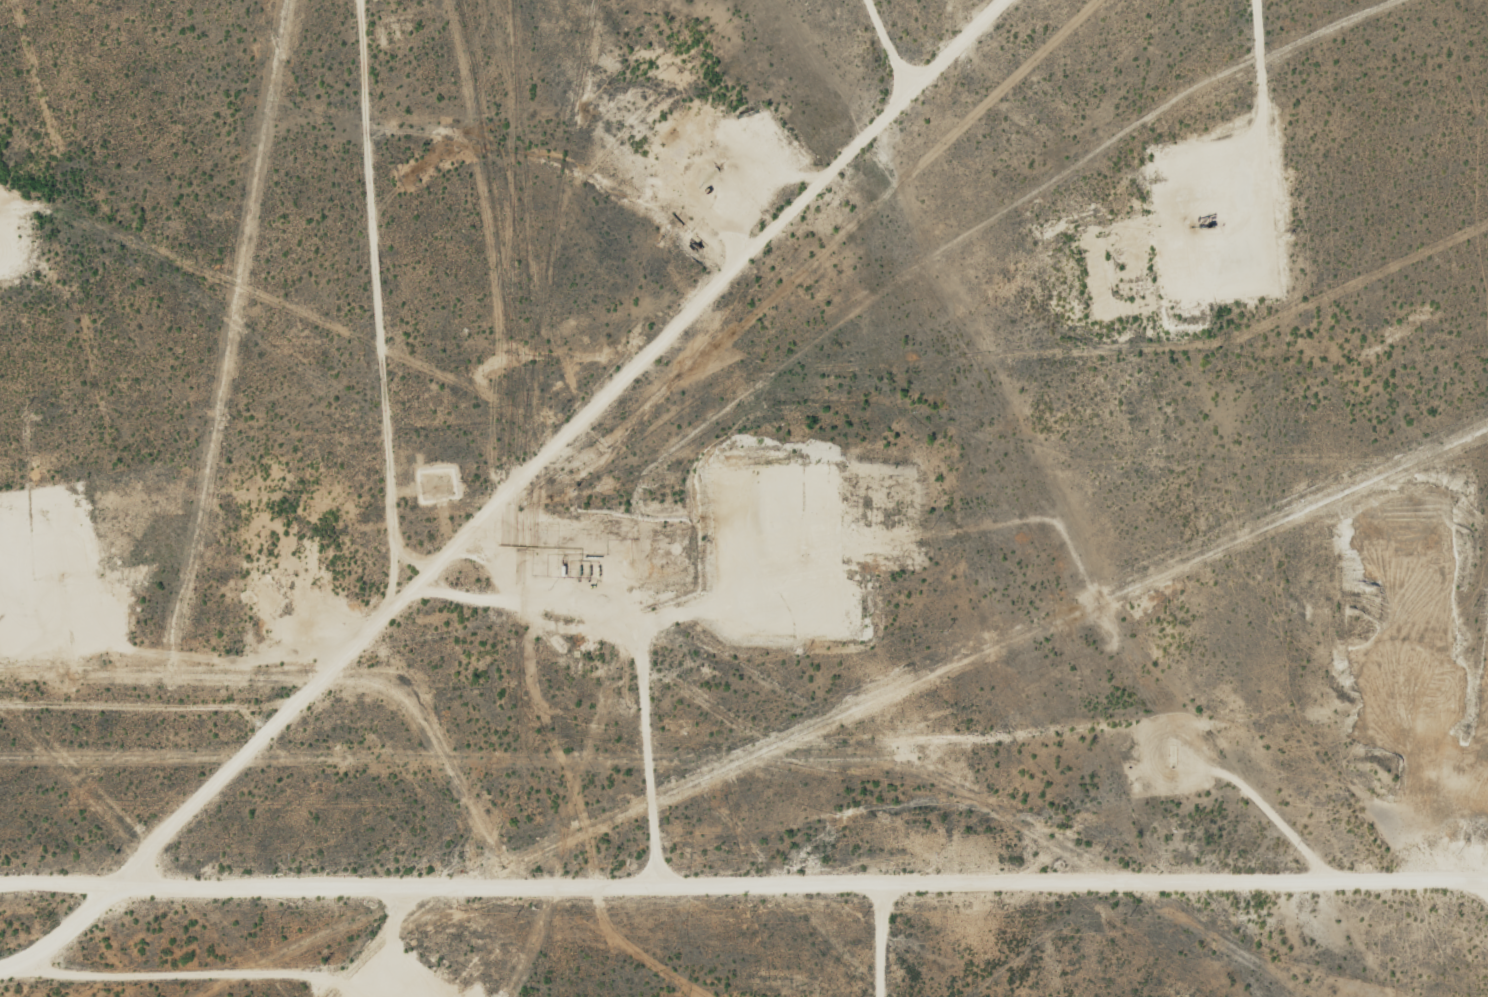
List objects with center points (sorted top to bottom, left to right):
road: (405, 308)
road: (553, 474)
road: (127, 725)
road: (967, 748)
road: (743, 891)
road: (394, 945)

